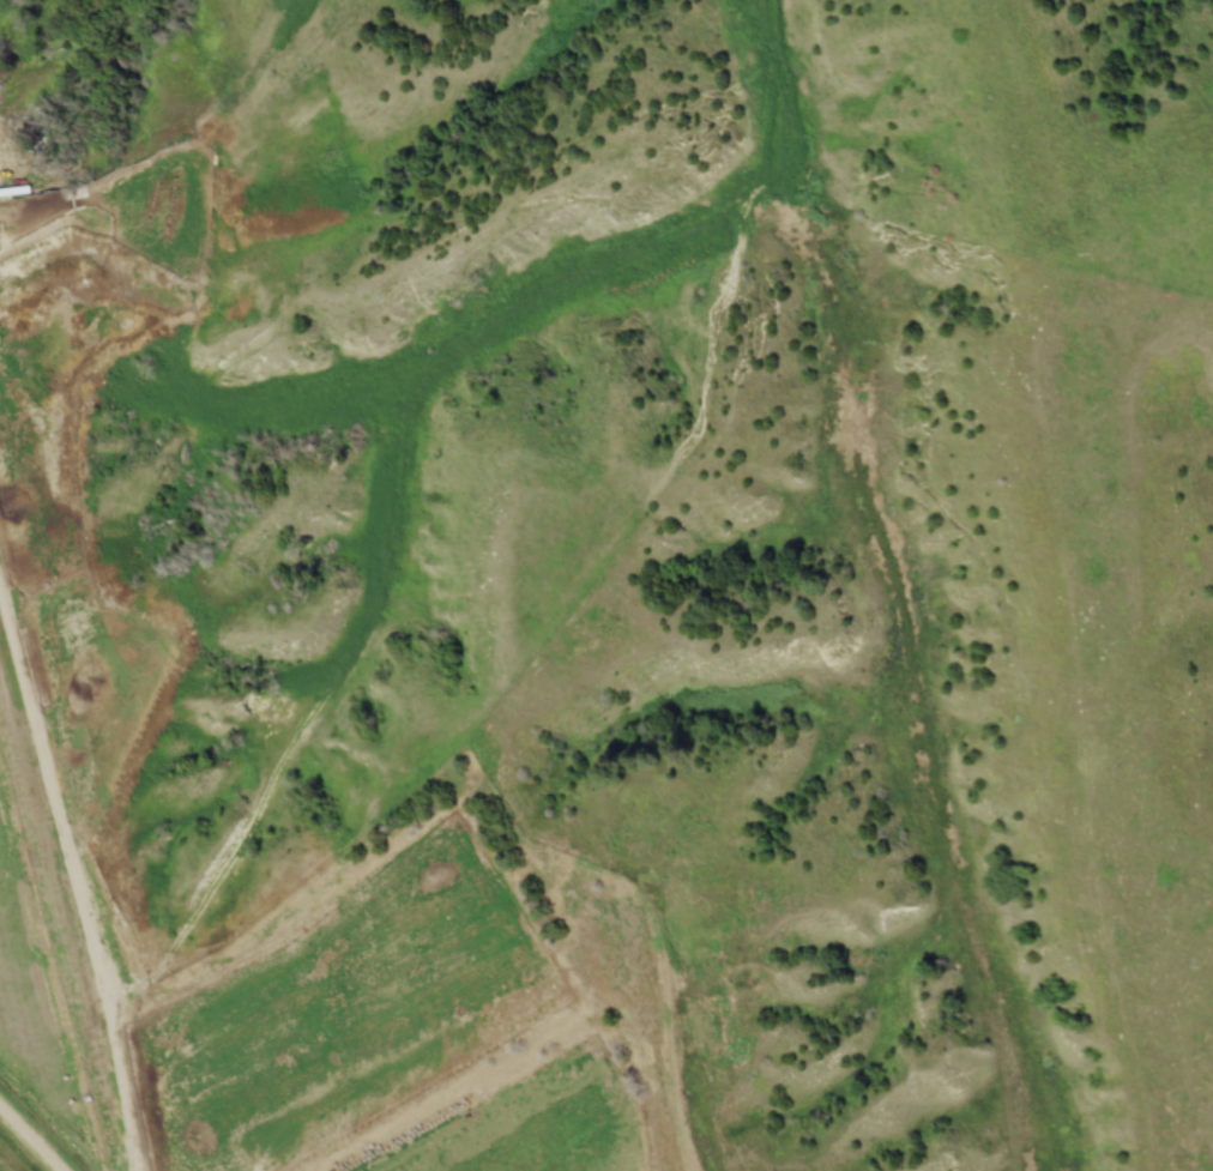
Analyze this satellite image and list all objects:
road: (78, 874)
road: (32, 1136)

